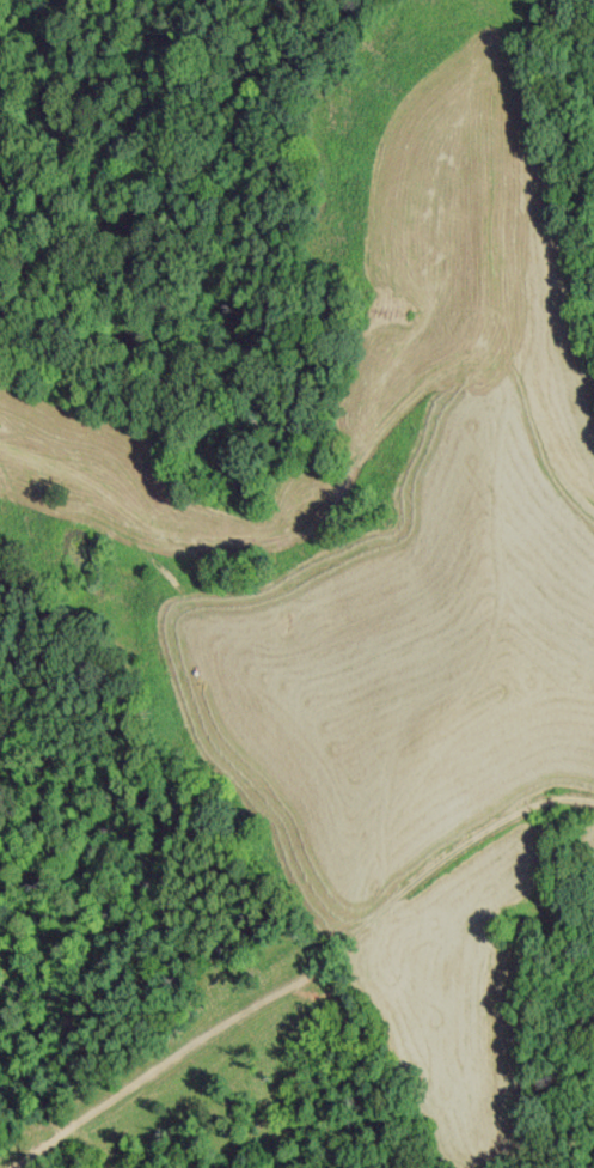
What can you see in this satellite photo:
road: (313, 986)

